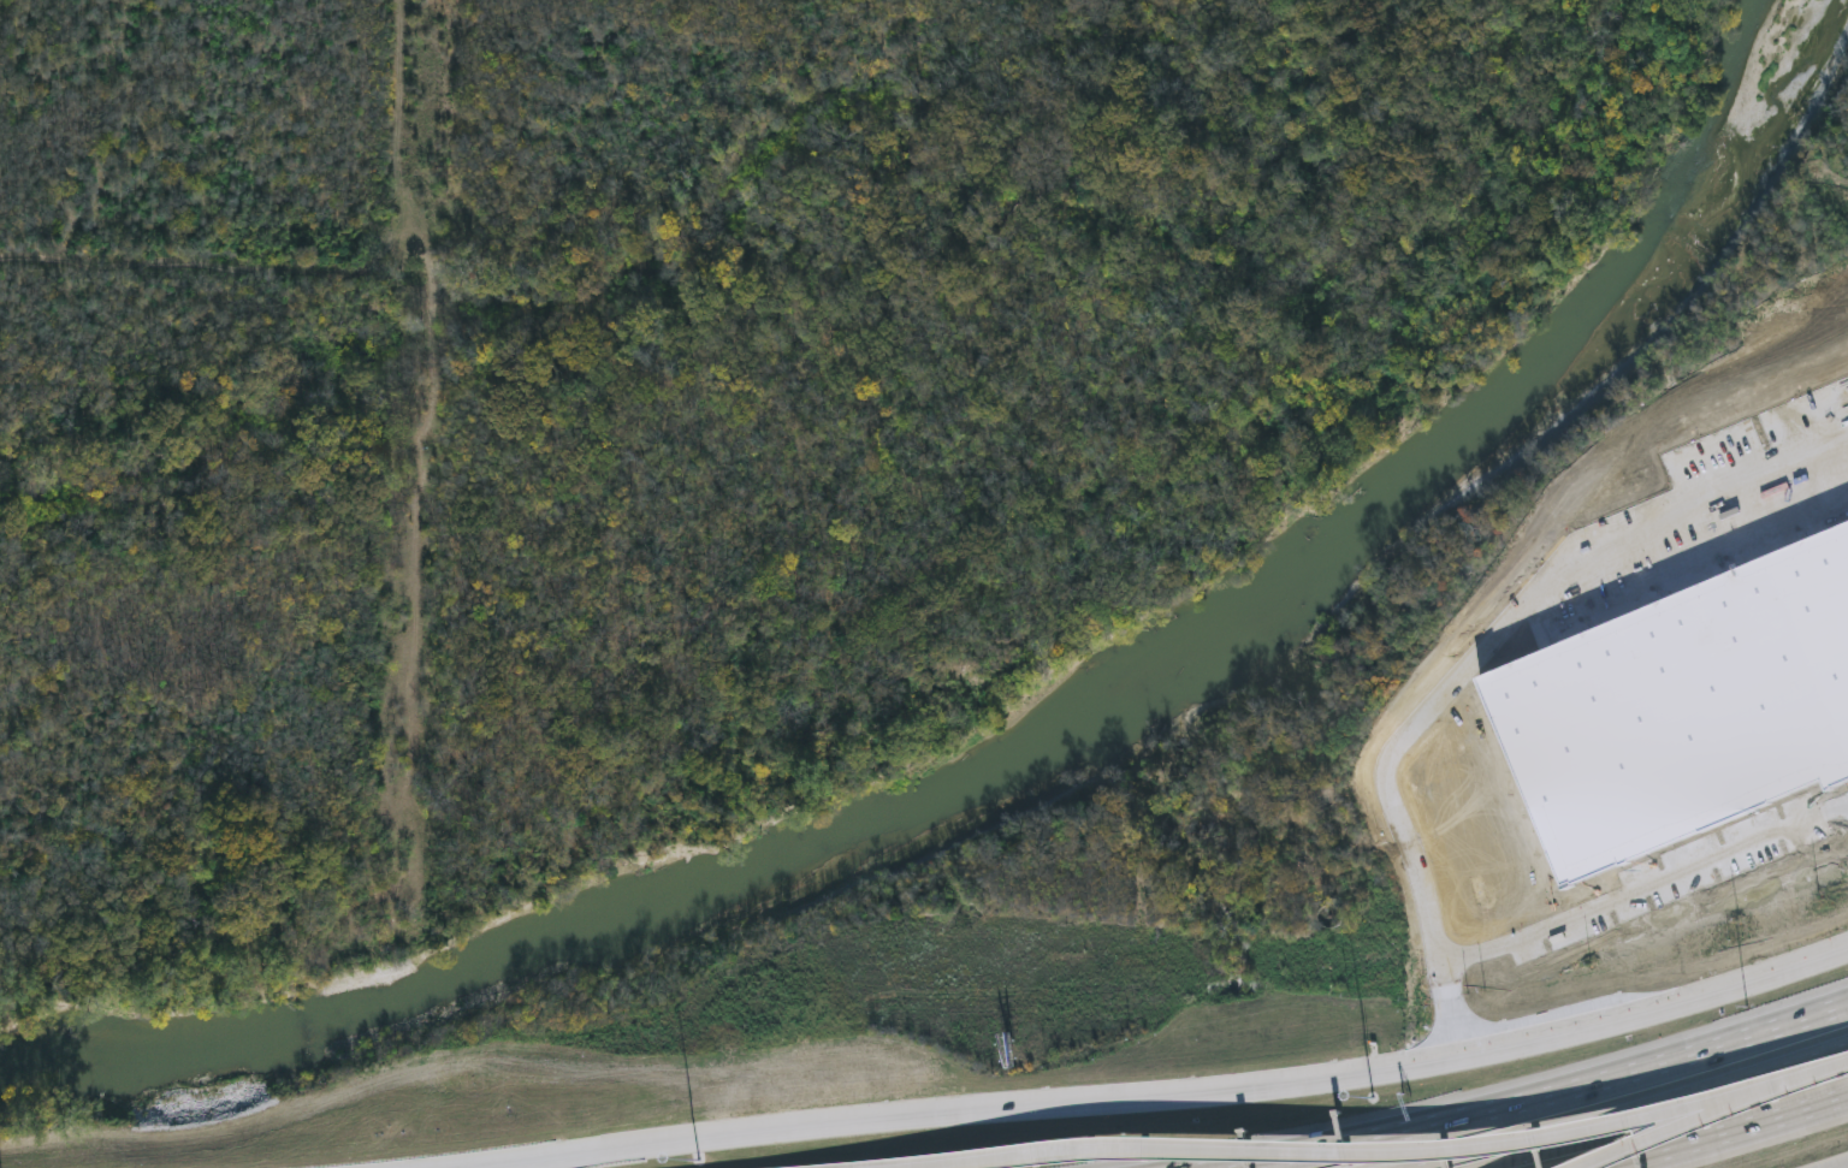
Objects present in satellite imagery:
river: (1048, 755)
road: (1808, 1074)
road: (1142, 1098)
road: (1541, 1098)
road: (1696, 1107)
road: (1630, 1110)
road: (1700, 1117)
road: (1723, 1134)
road: (1266, 1154)
road: (1606, 1157)
road: (1847, 1167)

